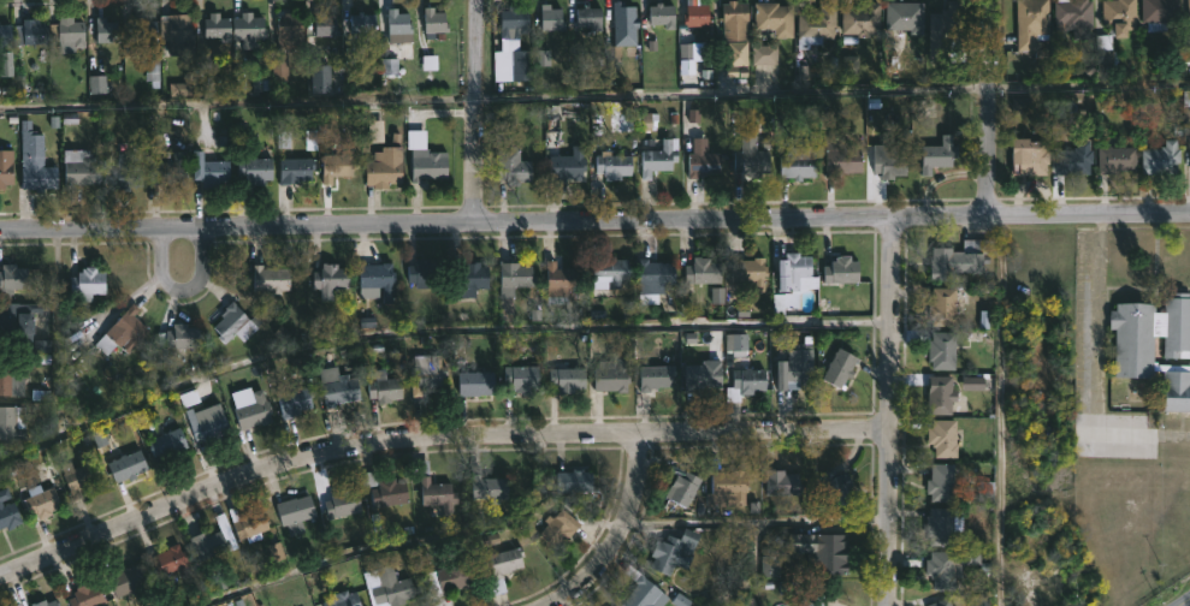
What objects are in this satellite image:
building: (1189, 11)
building: (1161, 13)
building: (662, 14)
building: (697, 14)
building: (622, 16)
building: (1074, 16)
building: (1120, 16)
building: (587, 17)
building: (905, 17)
building: (550, 18)
building: (774, 18)
building: (433, 19)
building: (862, 19)
building: (513, 20)
building: (734, 20)
building: (817, 23)
building: (1032, 23)
building: (324, 24)
building: (362, 24)
building: (247, 26)
building: (217, 29)
building: (398, 29)
building: (105, 31)
building: (143, 31)
building: (289, 31)
building: (29, 34)
building: (176, 34)
building: (946, 34)
building: (5, 35)
building: (67, 35)
building: (1106, 53)
building: (738, 54)
building: (764, 55)
building: (521, 66)
building: (320, 79)
road: (594, 96)
road: (989, 107)
road: (474, 111)
building: (657, 155)
building: (937, 155)
building: (704, 159)
building: (840, 159)
building: (1029, 159)
building: (1162, 159)
building: (1074, 160)
building: (1117, 160)
building: (752, 162)
building: (887, 162)
building: (338, 164)
building: (798, 164)
building: (426, 165)
building: (612, 165)
building: (385, 166)
building: (568, 166)
building: (78, 167)
building: (511, 167)
building: (5, 168)
building: (295, 170)
building: (36, 171)
building: (168, 171)
building: (208, 171)
building: (254, 171)
building: (125, 178)
road: (594, 221)
road: (1144, 227)
building: (959, 260)
building: (609, 271)
building: (842, 271)
building: (703, 272)
building: (424, 273)
building: (750, 273)
building: (514, 274)
building: (793, 277)
building: (375, 278)
building: (11, 280)
building: (270, 280)
building: (328, 280)
building: (469, 280)
building: (653, 280)
building: (561, 284)
building: (85, 285)
road: (182, 289)
building: (943, 308)
building: (235, 325)
building: (26, 326)
building: (123, 333)
road: (433, 333)
building: (176, 339)
building: (1131, 344)
building: (43, 349)
building: (942, 351)
building: (795, 366)
building: (840, 369)
building: (427, 373)
building: (611, 375)
building: (11, 376)
building: (520, 376)
building: (657, 376)
building: (701, 378)
building: (567, 380)
building: (474, 382)
building: (745, 384)
building: (337, 386)
building: (383, 390)
building: (941, 396)
building: (294, 403)
road: (888, 410)
road: (1003, 410)
building: (253, 412)
building: (11, 423)
building: (208, 427)
road: (431, 436)
building: (943, 439)
building: (165, 444)
building: (126, 467)
building: (78, 476)
building: (574, 479)
building: (942, 482)
building: (781, 483)
building: (837, 486)
building: (682, 487)
building: (728, 487)
building: (384, 488)
building: (489, 488)
building: (434, 492)
building: (4, 494)
building: (40, 501)
building: (342, 501)
building: (295, 510)
building: (8, 517)
road: (757, 522)
building: (247, 523)
building: (941, 525)
building: (558, 528)
road: (618, 534)
road: (399, 541)
building: (207, 543)
building: (674, 551)
building: (822, 552)
building: (167, 562)
building: (504, 565)
building: (948, 565)
road: (754, 566)
building: (448, 578)
road: (1184, 578)
building: (125, 580)
building: (386, 587)
building: (643, 590)
building: (87, 595)
building: (342, 599)
building: (813, 599)
building: (45, 602)
building: (941, 602)
road: (1185, 602)

